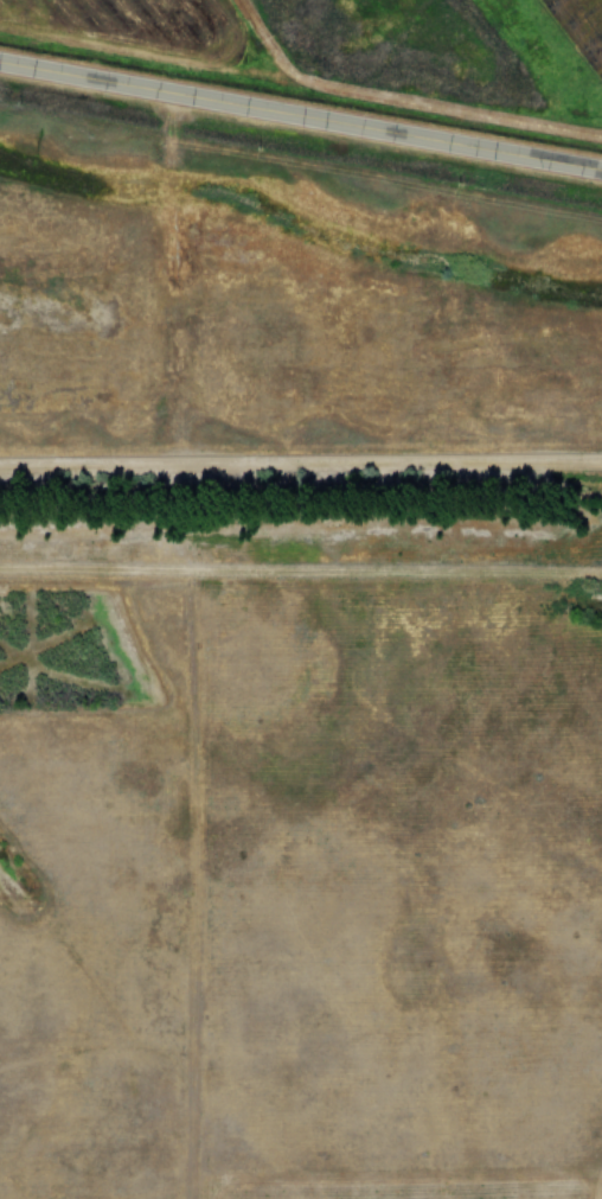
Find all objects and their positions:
road: (301, 119)

